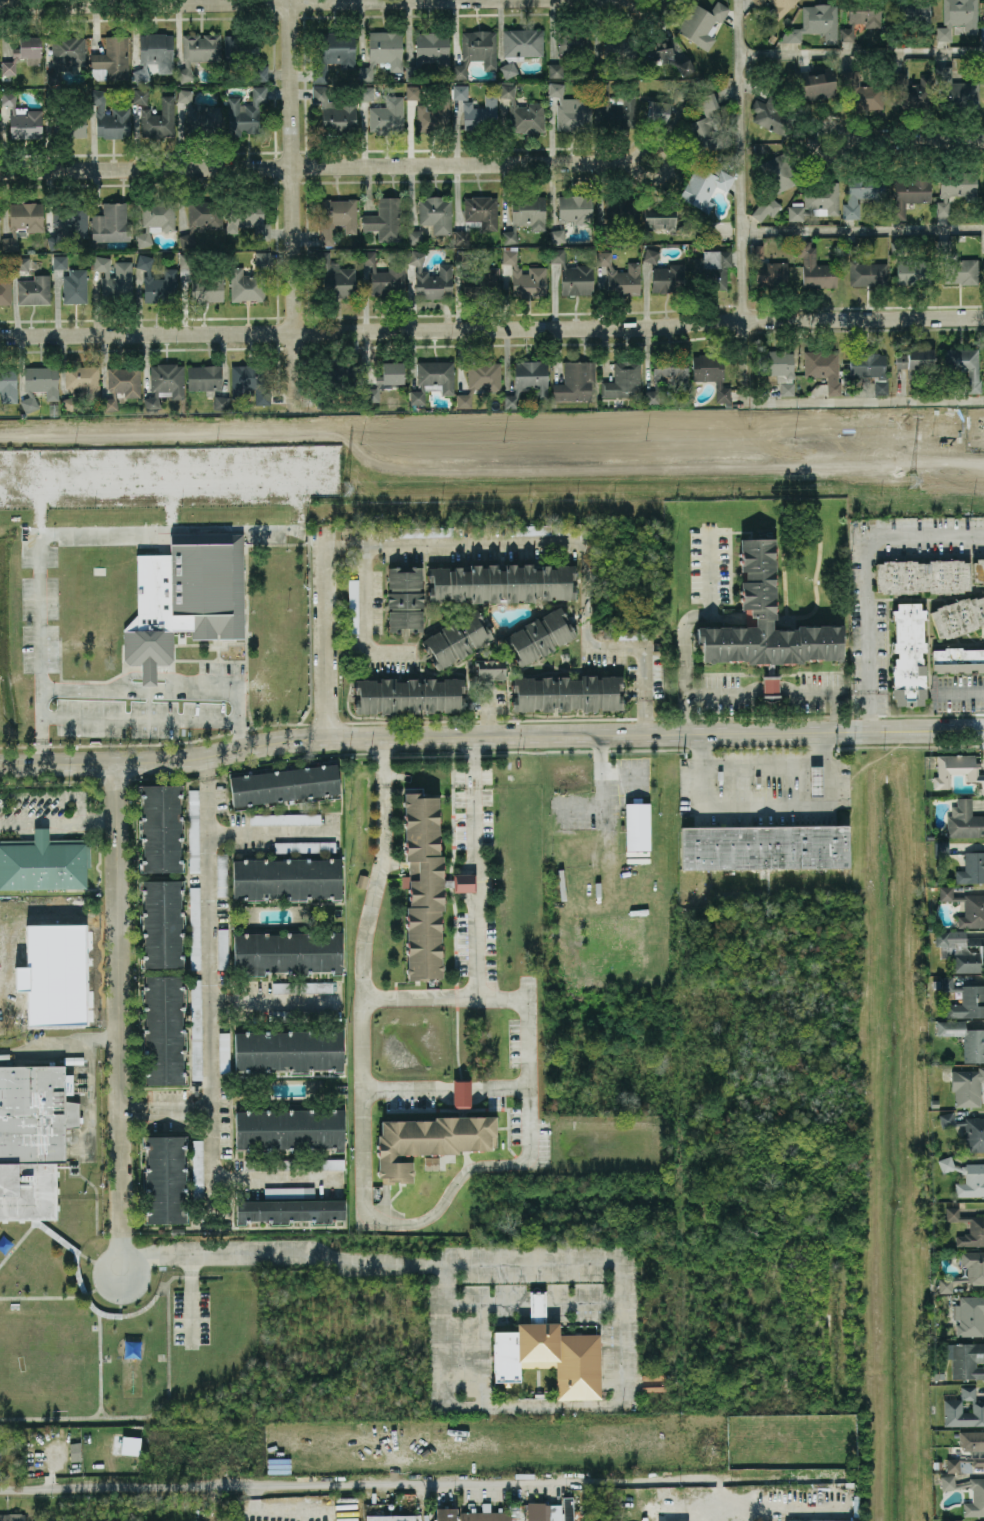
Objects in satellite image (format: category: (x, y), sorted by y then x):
road: (187, 2)
building: (759, 2)
building: (780, 7)
road: (647, 13)
building: (861, 17)
building: (907, 17)
building: (958, 17)
building: (702, 23)
building: (814, 24)
road: (738, 26)
building: (982, 32)
building: (772, 38)
building: (520, 47)
building: (568, 48)
building: (337, 50)
road: (861, 50)
building: (198, 51)
building: (476, 51)
building: (154, 52)
building: (244, 52)
building: (383, 52)
building: (429, 52)
building: (615, 52)
building: (663, 53)
building: (22, 54)
building: (65, 55)
building: (111, 58)
building: (982, 75)
building: (816, 85)
building: (459, 91)
building: (954, 91)
building: (860, 92)
building: (910, 92)
building: (140, 96)
building: (443, 107)
building: (664, 107)
building: (616, 108)
building: (571, 110)
building: (773, 111)
building: (245, 112)
building: (336, 112)
building: (384, 112)
building: (480, 113)
building: (523, 113)
building: (110, 116)
building: (201, 116)
building: (23, 119)
building: (67, 119)
building: (159, 119)
building: (707, 127)
road: (849, 140)
road: (917, 140)
road: (667, 161)
road: (313, 166)
building: (775, 183)
building: (704, 187)
building: (955, 187)
building: (862, 192)
building: (910, 193)
road: (292, 199)
building: (816, 200)
building: (575, 208)
building: (435, 214)
building: (526, 214)
building: (246, 216)
building: (477, 216)
building: (618, 216)
building: (338, 217)
building: (156, 218)
building: (201, 218)
building: (384, 219)
building: (665, 219)
building: (23, 220)
building: (68, 221)
building: (111, 223)
road: (862, 228)
building: (557, 235)
building: (415, 237)
building: (849, 247)
building: (900, 247)
building: (651, 256)
building: (60, 261)
building: (21, 263)
building: (956, 265)
building: (713, 267)
building: (814, 267)
building: (768, 269)
building: (914, 271)
building: (867, 273)
building: (574, 274)
building: (523, 275)
building: (621, 276)
building: (335, 277)
building: (385, 277)
building: (668, 277)
building: (115, 278)
building: (431, 278)
building: (250, 279)
building: (476, 279)
building: (200, 281)
building: (157, 282)
building: (74, 286)
building: (5, 287)
building: (34, 289)
road: (492, 331)
road: (742, 348)
building: (914, 361)
building: (775, 363)
building: (819, 363)
building: (963, 365)
building: (865, 371)
building: (711, 372)
building: (204, 377)
building: (666, 377)
building: (385, 378)
building: (528, 379)
building: (432, 380)
building: (480, 380)
building: (332, 381)
building: (575, 381)
building: (623, 381)
building: (250, 382)
building: (165, 383)
building: (8, 384)
building: (80, 384)
building: (39, 385)
building: (121, 385)
building: (787, 388)
building: (834, 388)
building: (220, 402)
building: (53, 410)
building: (22, 415)
road: (169, 474)
power tower: (910, 482)
power tower: (345, 490)
road: (174, 500)
road: (69, 529)
building: (542, 529)
building: (425, 532)
road: (522, 542)
road: (346, 546)
road: (708, 569)
building: (978, 570)
building: (923, 576)
road: (874, 577)
building: (501, 583)
building: (185, 597)
building: (404, 598)
building: (353, 606)
building: (958, 616)
building: (765, 620)
road: (328, 631)
building: (631, 634)
building: (539, 637)
building: (457, 638)
road: (683, 647)
building: (909, 655)
building: (958, 660)
building: (489, 669)
road: (151, 676)
building: (770, 686)
road: (169, 691)
building: (568, 693)
road: (958, 693)
building: (410, 695)
road: (777, 695)
road: (494, 707)
road: (140, 718)
road: (491, 735)
road: (764, 755)
road: (203, 768)
building: (958, 770)
building: (816, 779)
gas station: (816, 780)
building: (284, 785)
road: (603, 796)
road: (471, 797)
road: (80, 807)
road: (767, 810)
road: (97, 818)
building: (285, 818)
building: (964, 820)
building: (635, 826)
building: (161, 828)
building: (193, 831)
road: (271, 832)
building: (304, 846)
building: (764, 847)
building: (941, 849)
road: (472, 860)
building: (43, 863)
building: (950, 864)
building: (971, 868)
building: (222, 874)
building: (286, 878)
building: (426, 887)
building: (966, 907)
road: (455, 913)
building: (162, 923)
building: (195, 927)
road: (362, 946)
building: (222, 948)
building: (961, 949)
road: (474, 951)
building: (287, 952)
building: (57, 975)
building: (302, 987)
road: (116, 996)
building: (964, 998)
road: (208, 1002)
road: (275, 1004)
building: (163, 1030)
building: (964, 1038)
road: (101, 1039)
building: (288, 1050)
building: (223, 1052)
road: (88, 1055)
building: (967, 1086)
road: (446, 1090)
building: (461, 1094)
building: (935, 1103)
road: (179, 1114)
road: (132, 1115)
building: (289, 1130)
building: (967, 1131)
building: (30, 1138)
building: (429, 1141)
building: (332, 1163)
building: (197, 1164)
road: (278, 1176)
building: (966, 1177)
building: (165, 1179)
building: (290, 1210)
road: (436, 1212)
building: (976, 1227)
road: (120, 1251)
road: (595, 1259)
building: (975, 1272)
road: (191, 1301)
building: (969, 1316)
building: (551, 1352)
building: (965, 1359)
building: (952, 1406)
building: (0, 1446)
building: (75, 1451)
building: (977, 1453)
road: (402, 1481)
building: (978, 1496)
building: (568, 1508)
building: (445, 1514)
building: (12, 1517)
building: (390, 1517)
building: (816, 1520)
building: (955, 1520)

